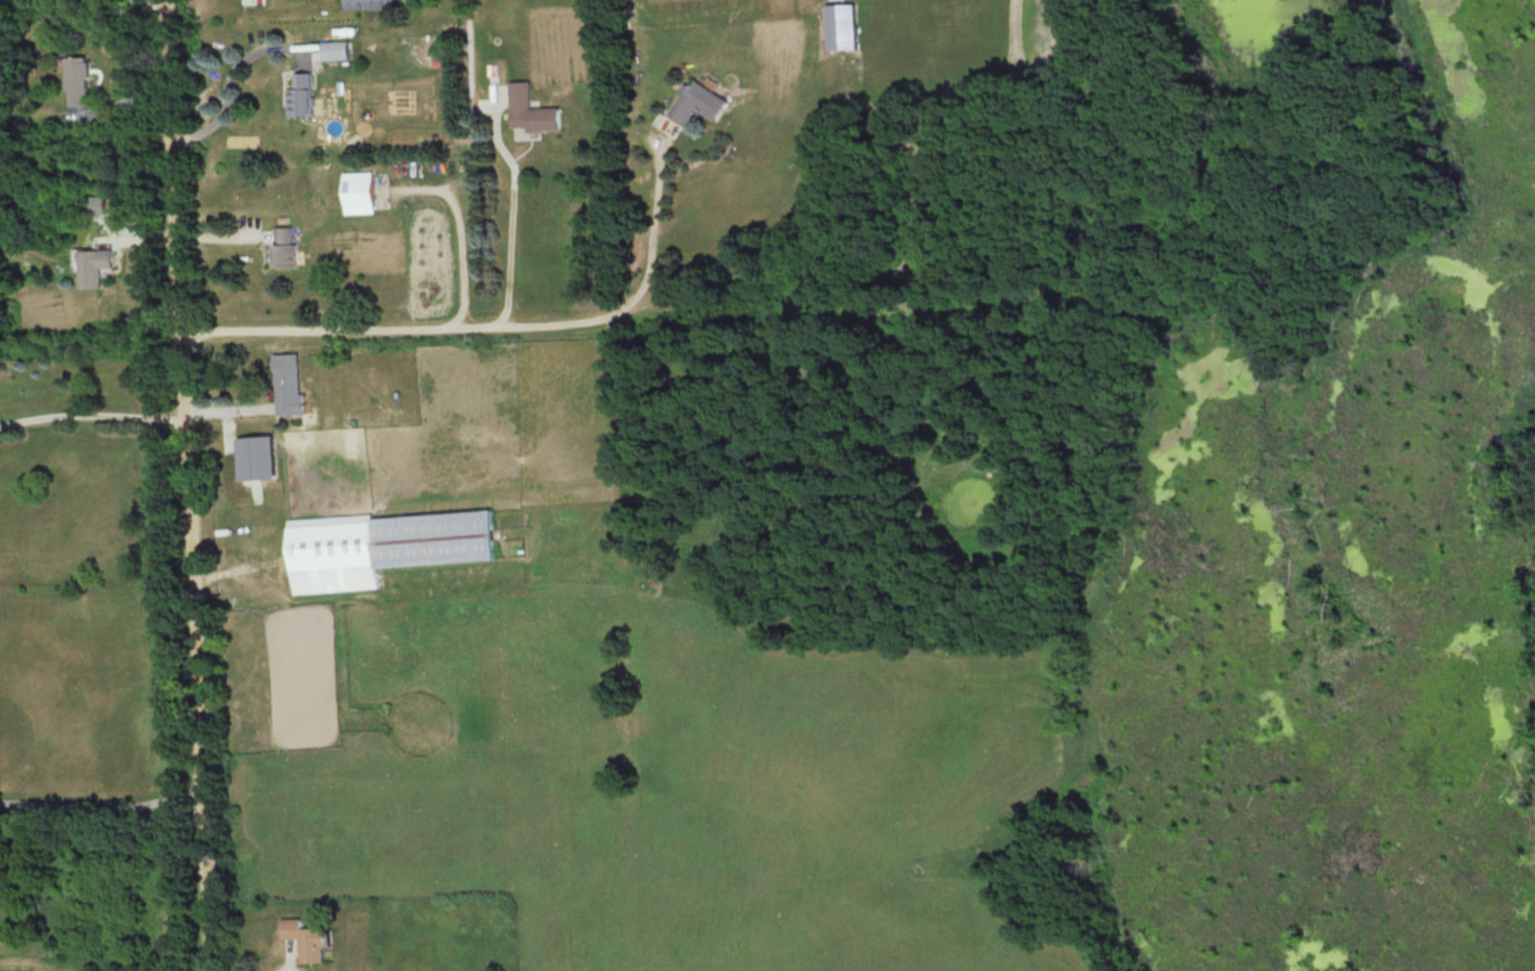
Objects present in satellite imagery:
building: (373, 4)
building: (843, 7)
building: (342, 50)
road: (230, 78)
building: (81, 81)
building: (306, 96)
building: (699, 103)
building: (534, 110)
building: (98, 204)
road: (515, 214)
road: (652, 233)
building: (289, 247)
building: (93, 267)
road: (410, 321)
building: (291, 385)
road: (231, 402)
road: (95, 416)
road: (195, 485)
building: (385, 547)
road: (105, 807)
building: (305, 939)

